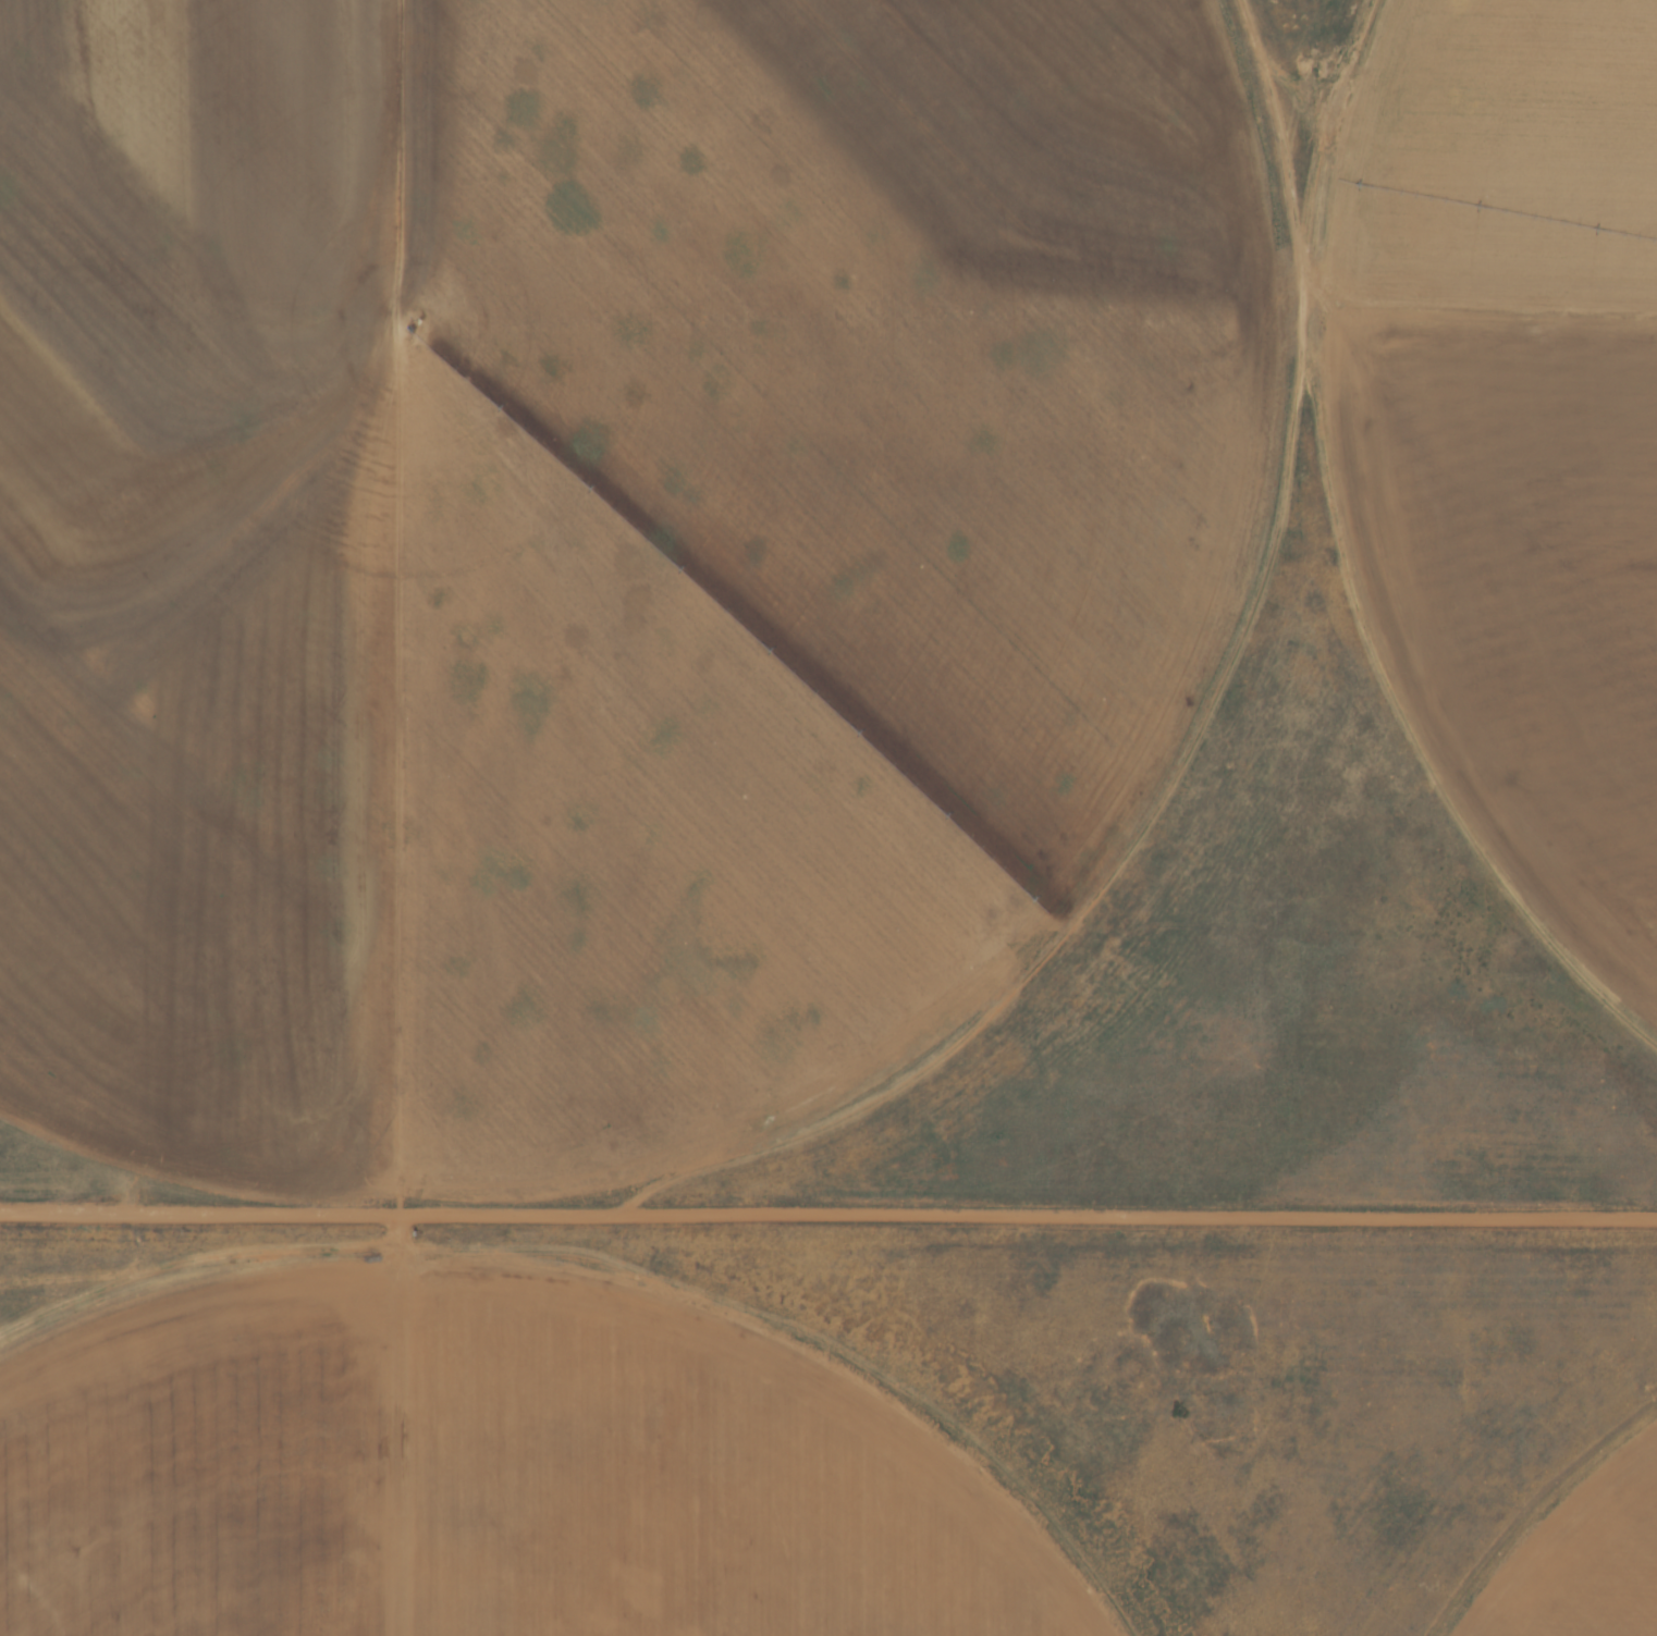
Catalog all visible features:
road: (828, 1219)

